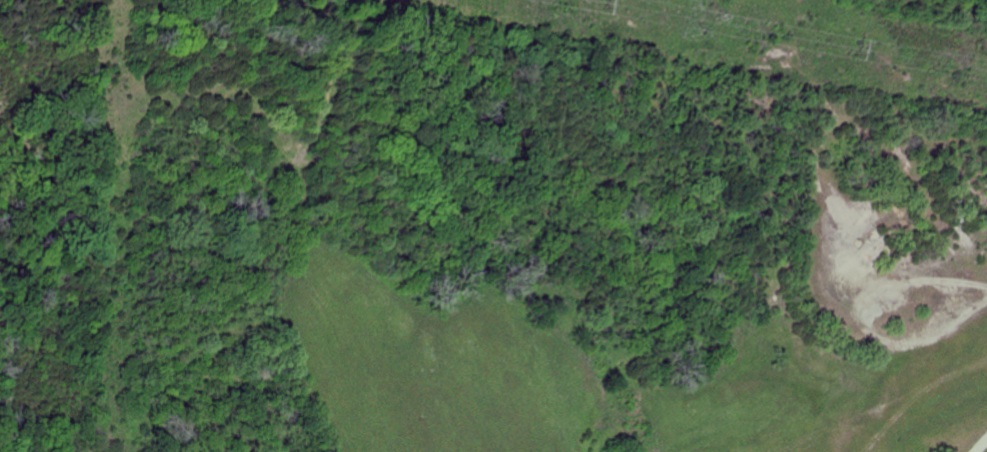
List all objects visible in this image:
power tower: (598, 0)
power tower: (854, 46)
road: (982, 447)

